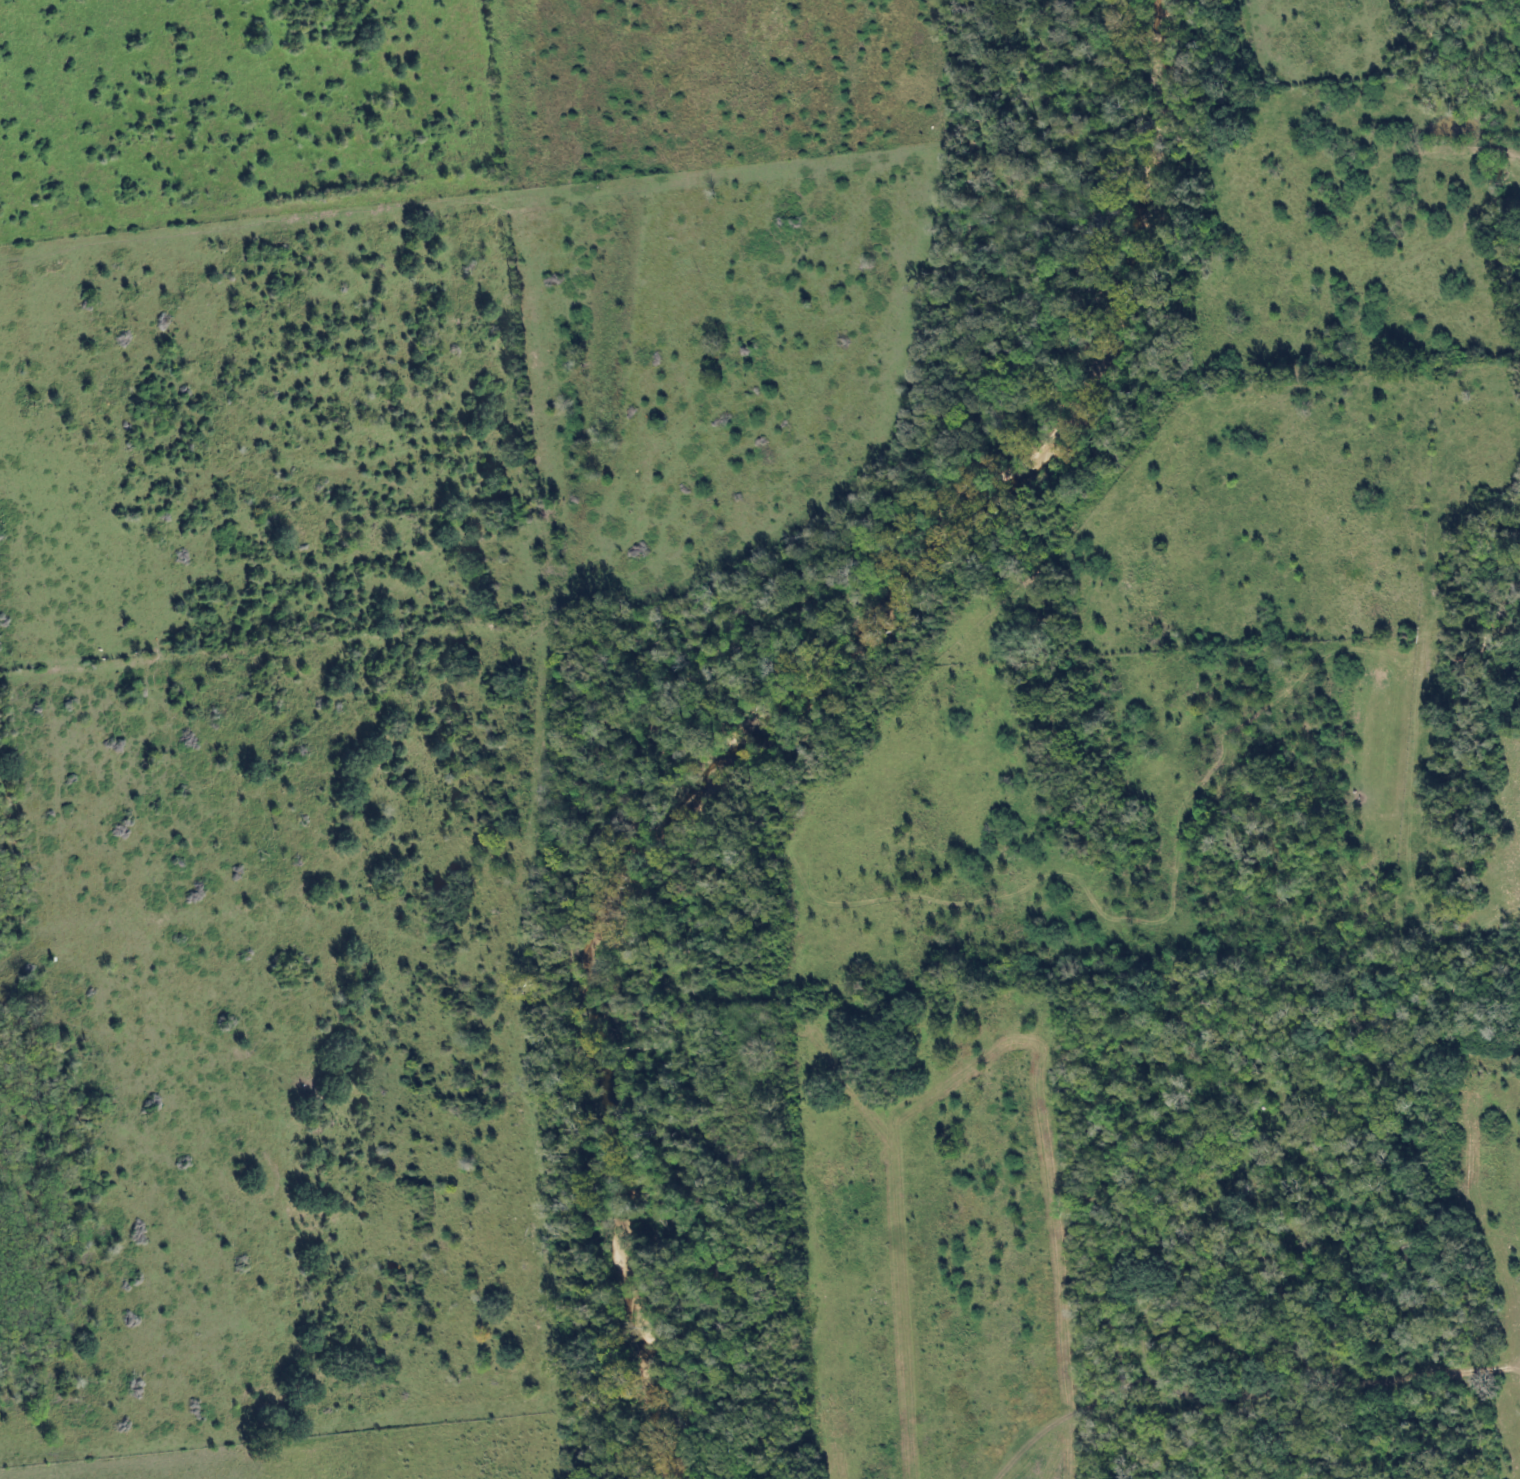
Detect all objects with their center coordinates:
road: (249, 232)

